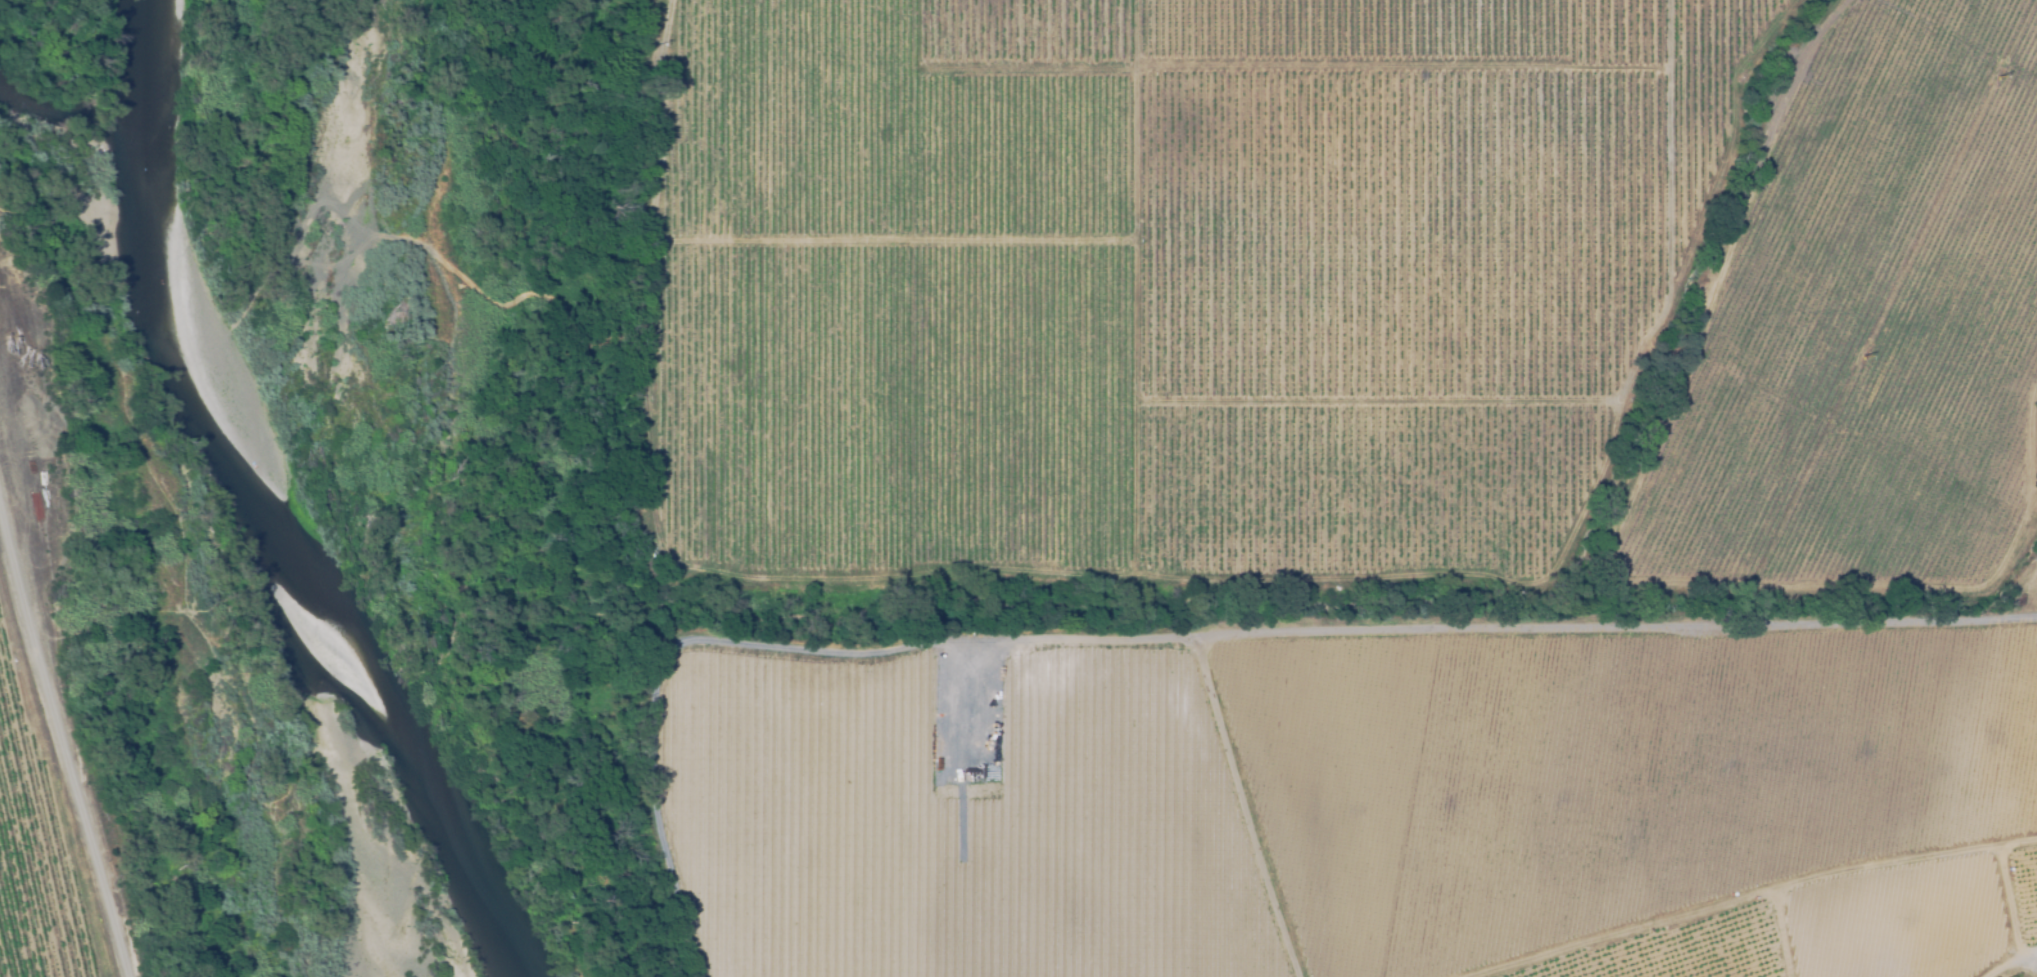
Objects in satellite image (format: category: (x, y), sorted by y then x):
river: (294, 498)
river: (229, 509)
river: (258, 510)
road: (1501, 631)
road: (63, 741)

